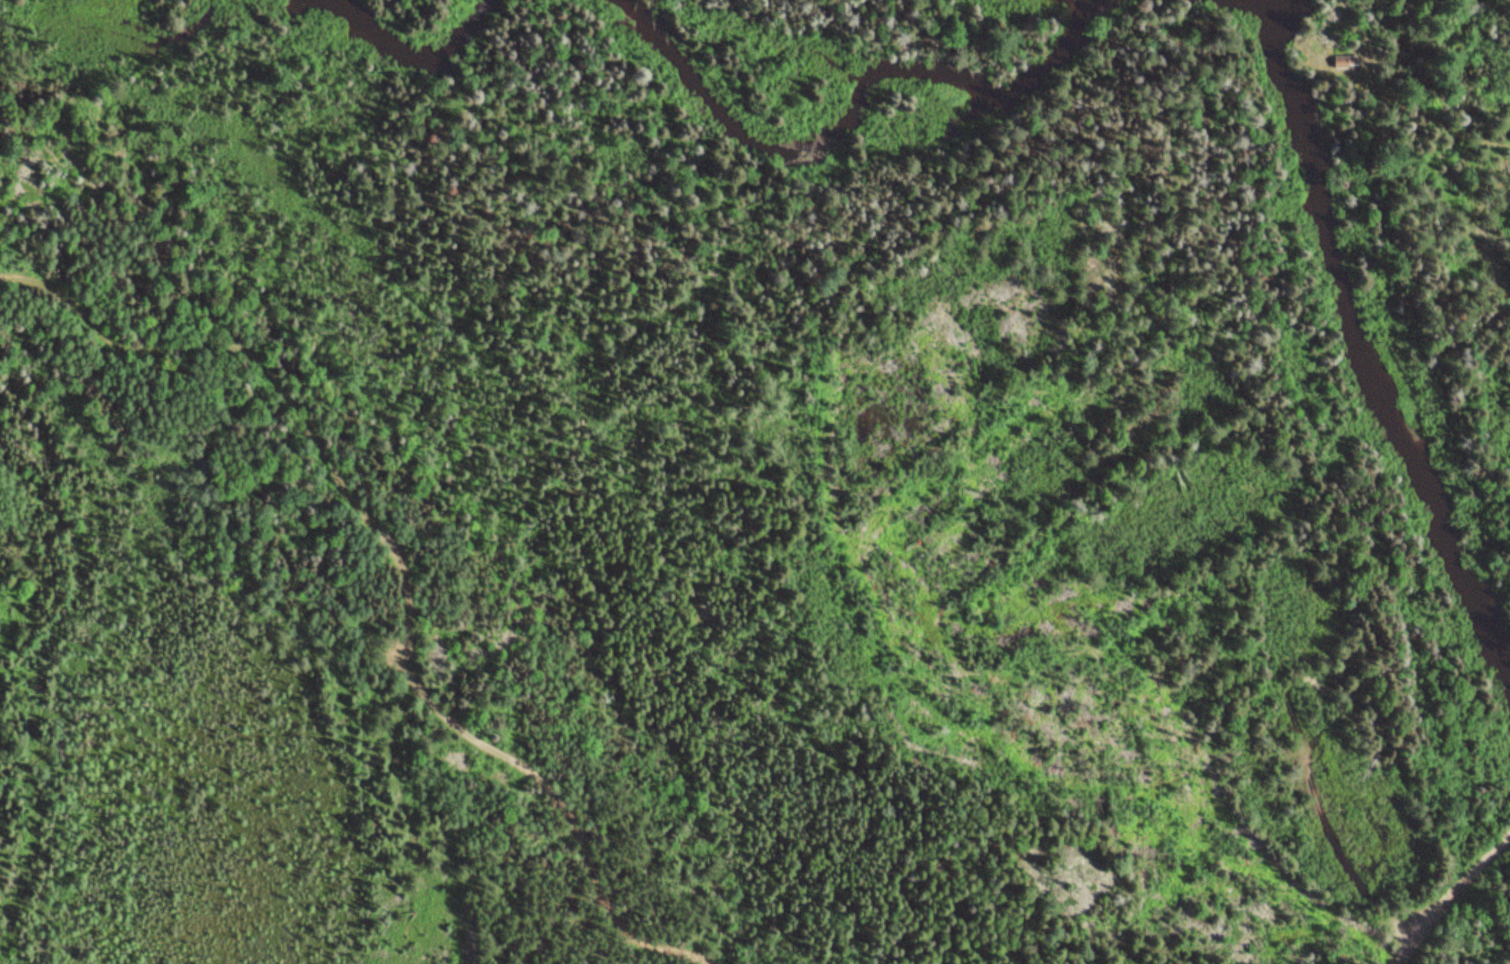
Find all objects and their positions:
river: (416, 29)
river: (907, 73)
river: (1374, 310)
road: (1311, 769)
road: (1451, 900)

